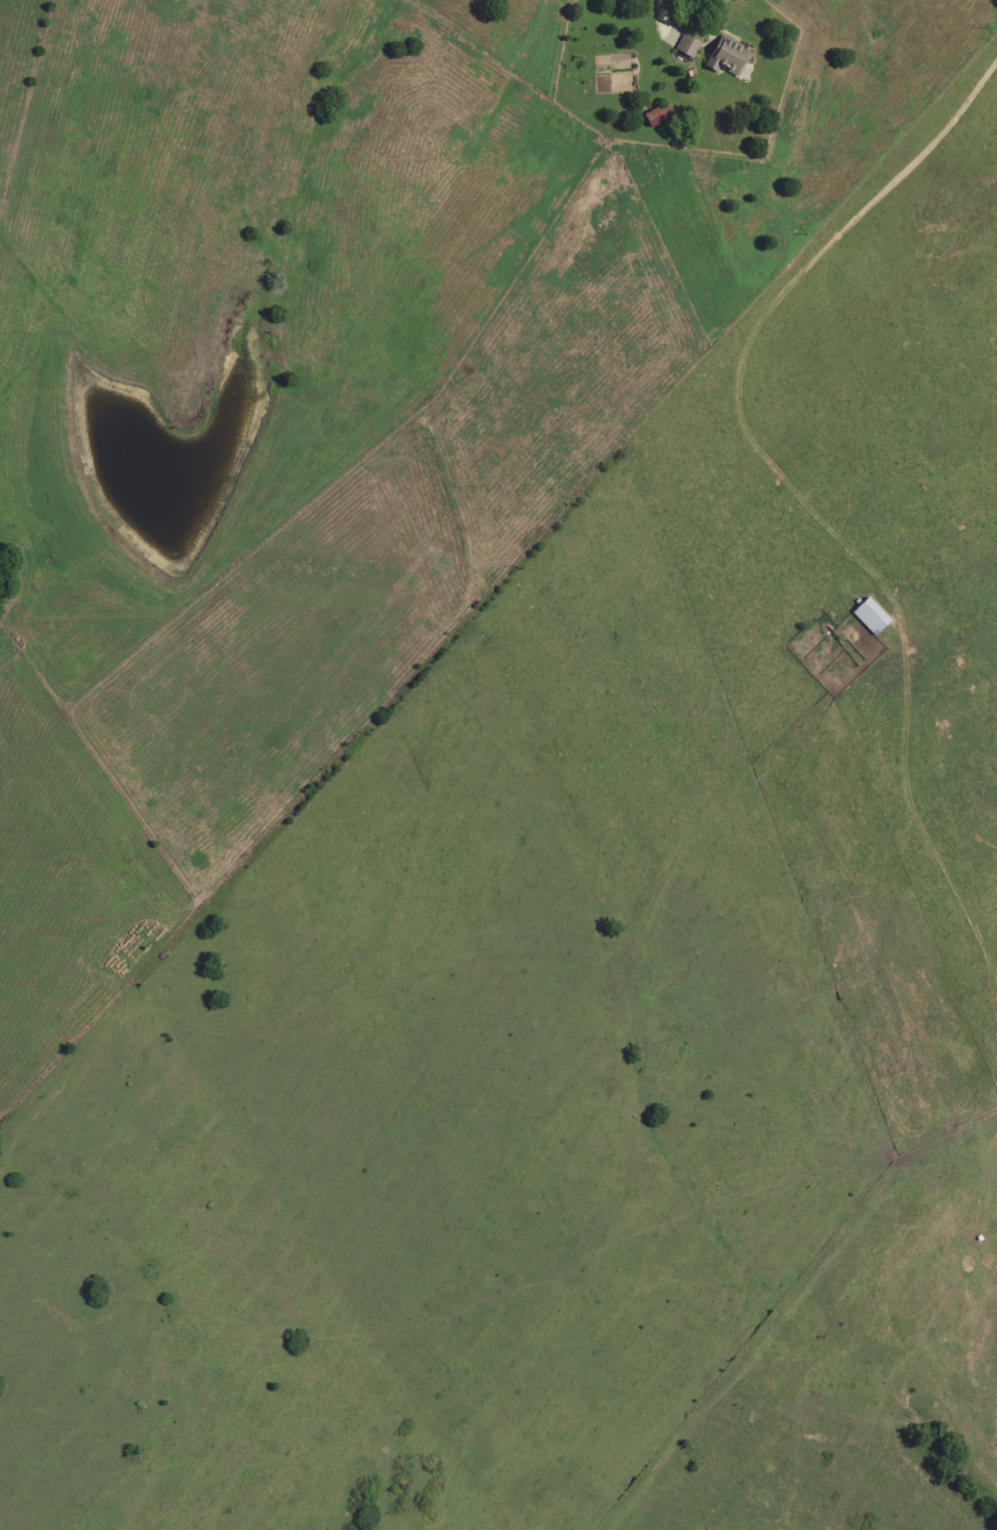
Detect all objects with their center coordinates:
road: (661, 4)
building: (692, 45)
building: (733, 58)
building: (870, 615)

